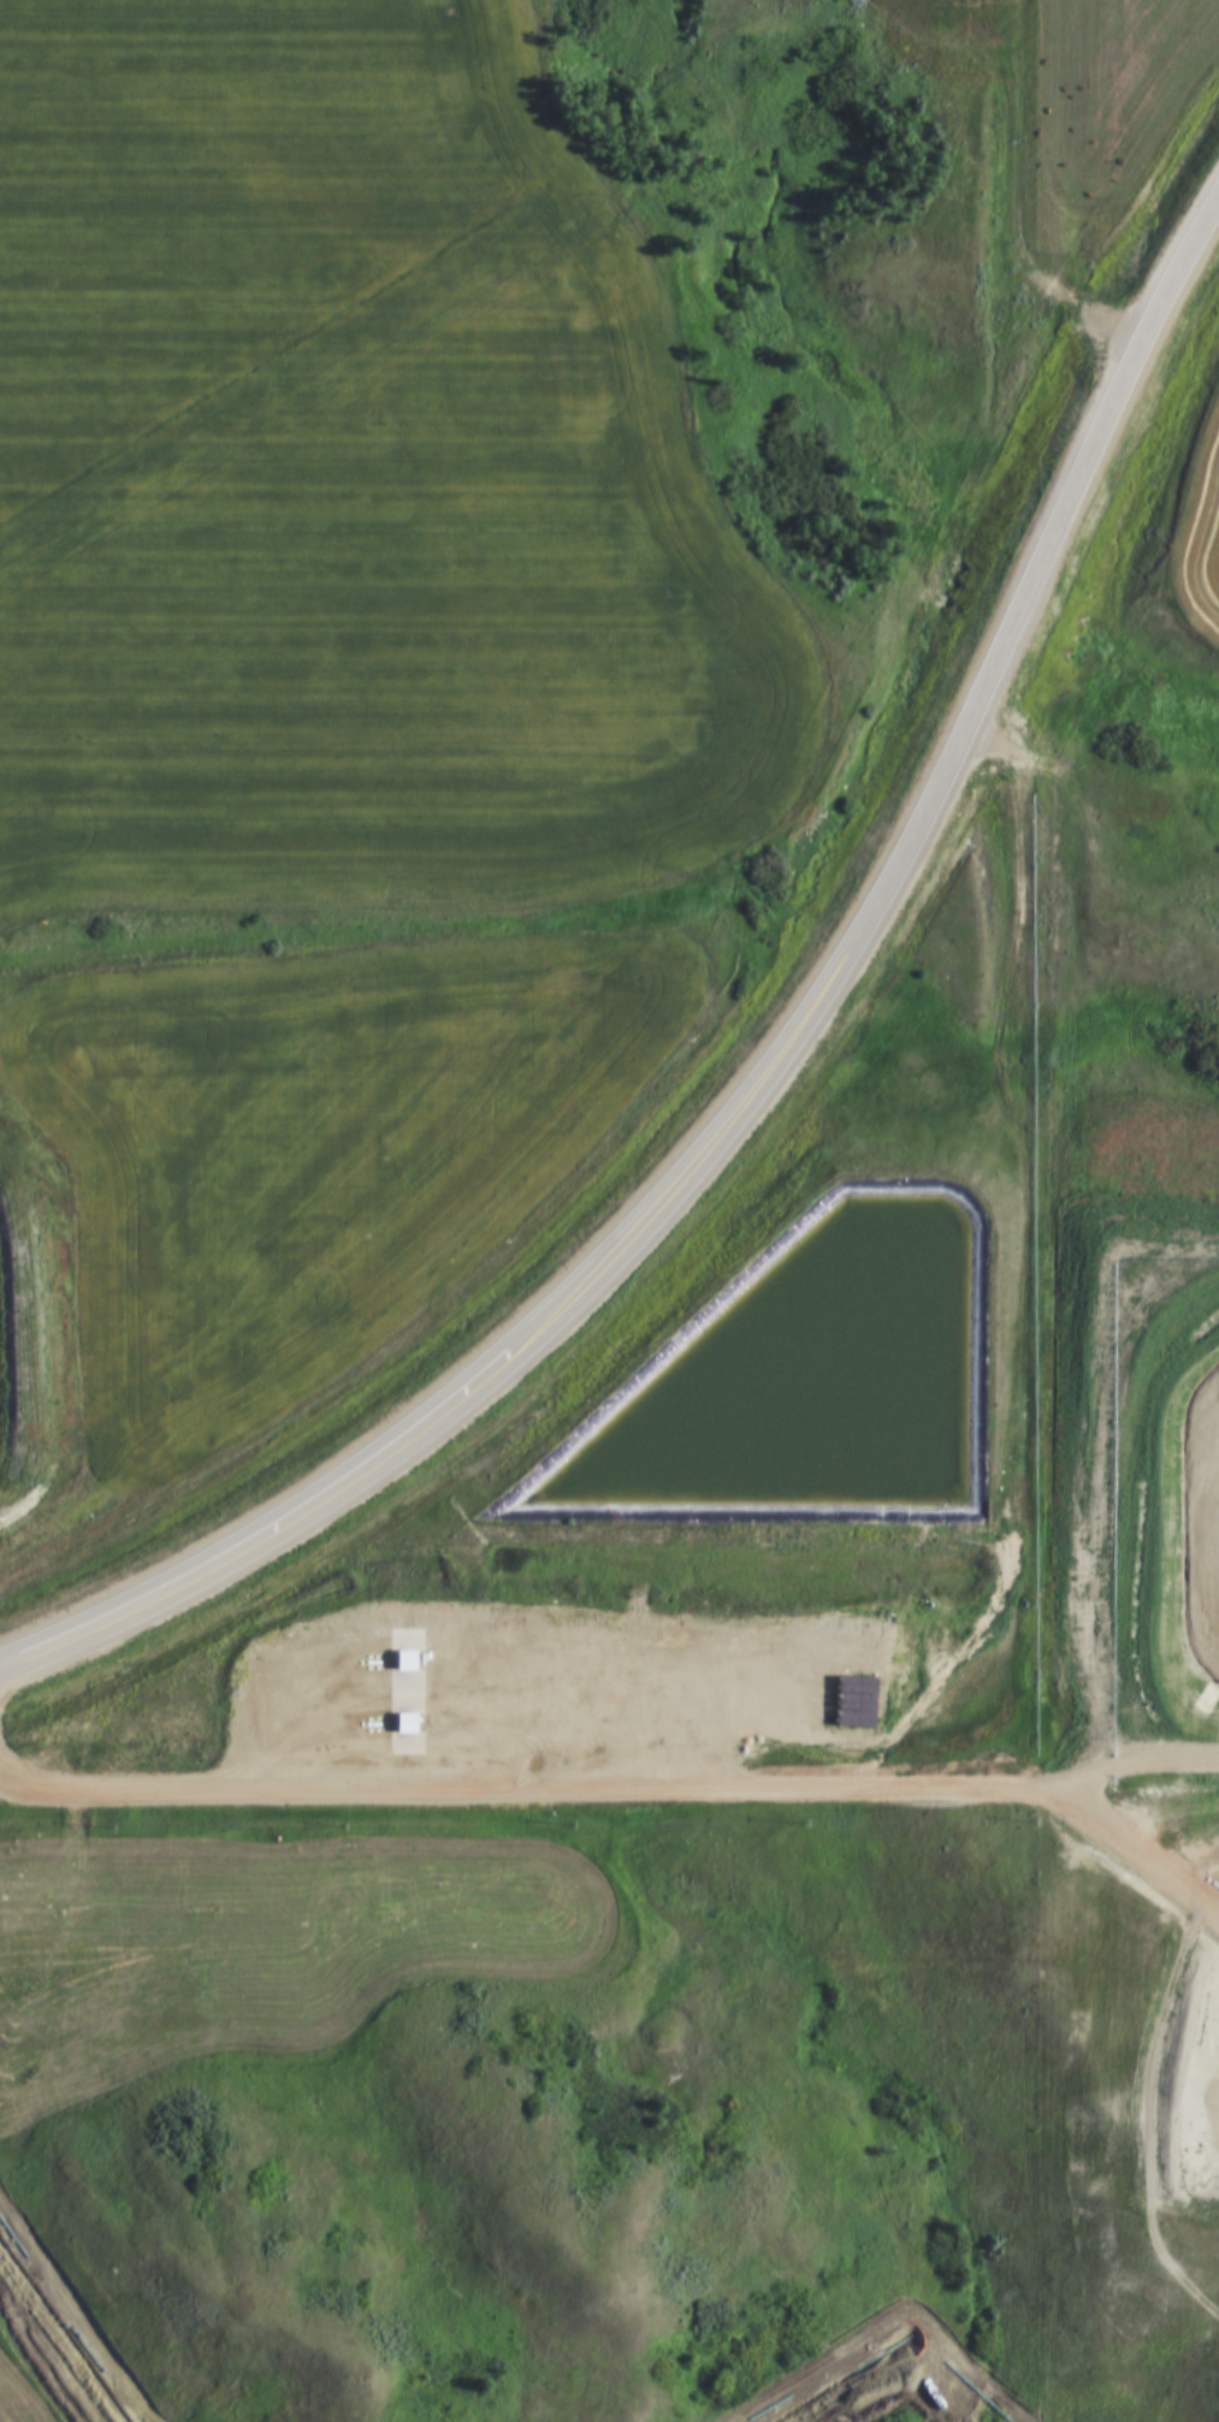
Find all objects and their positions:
road: (771, 1080)

